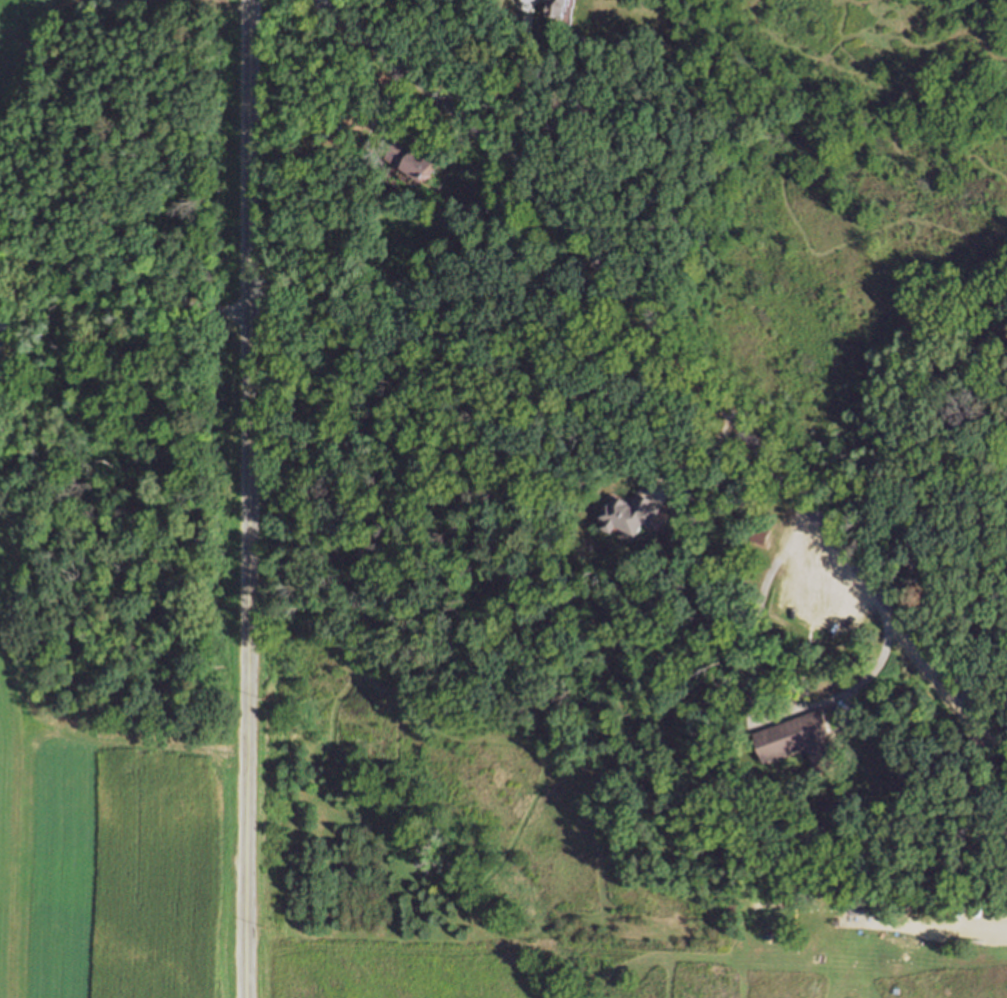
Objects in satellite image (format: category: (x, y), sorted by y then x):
building: (558, 6)
road: (526, 86)
building: (413, 159)
road: (122, 286)
road: (652, 327)
building: (4, 370)
road: (248, 498)
building: (631, 513)
building: (761, 533)
road: (752, 692)
road: (980, 696)
building: (801, 740)
building: (880, 908)

